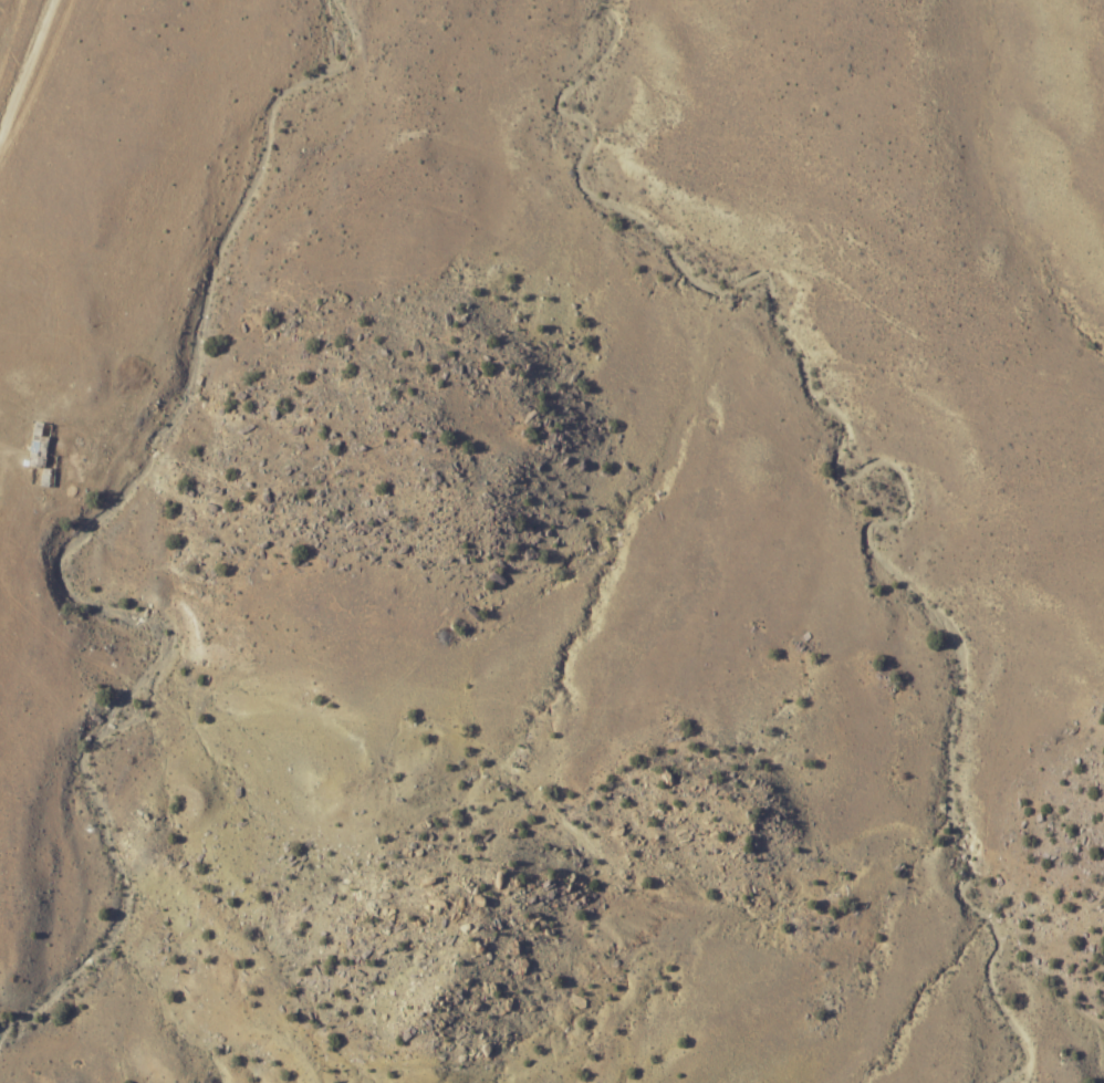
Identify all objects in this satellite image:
road: (24, 62)
building: (41, 456)

